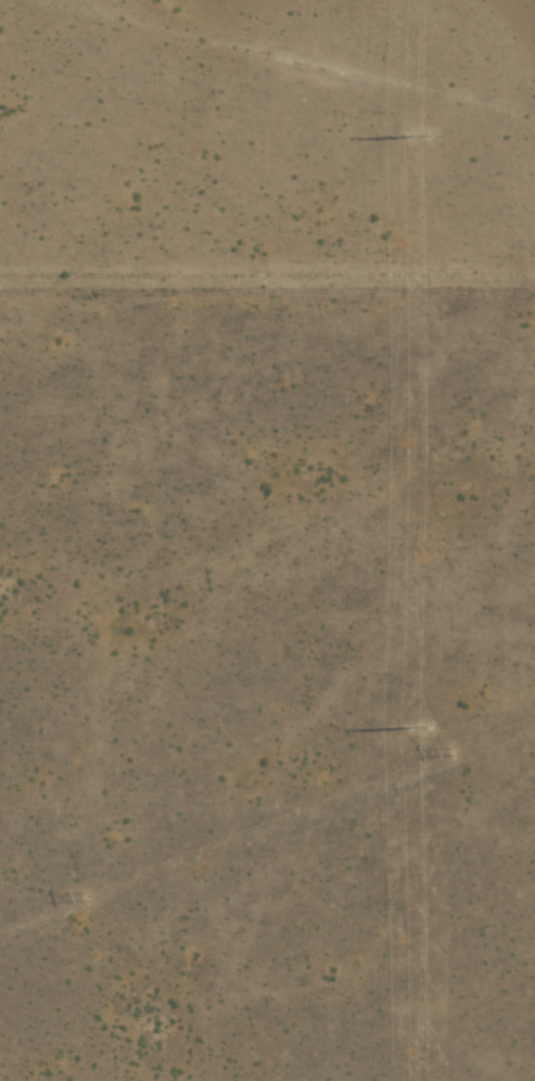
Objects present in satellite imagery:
power tower: (418, 137)
power tower: (421, 727)
power tower: (454, 751)
power tower: (86, 898)

